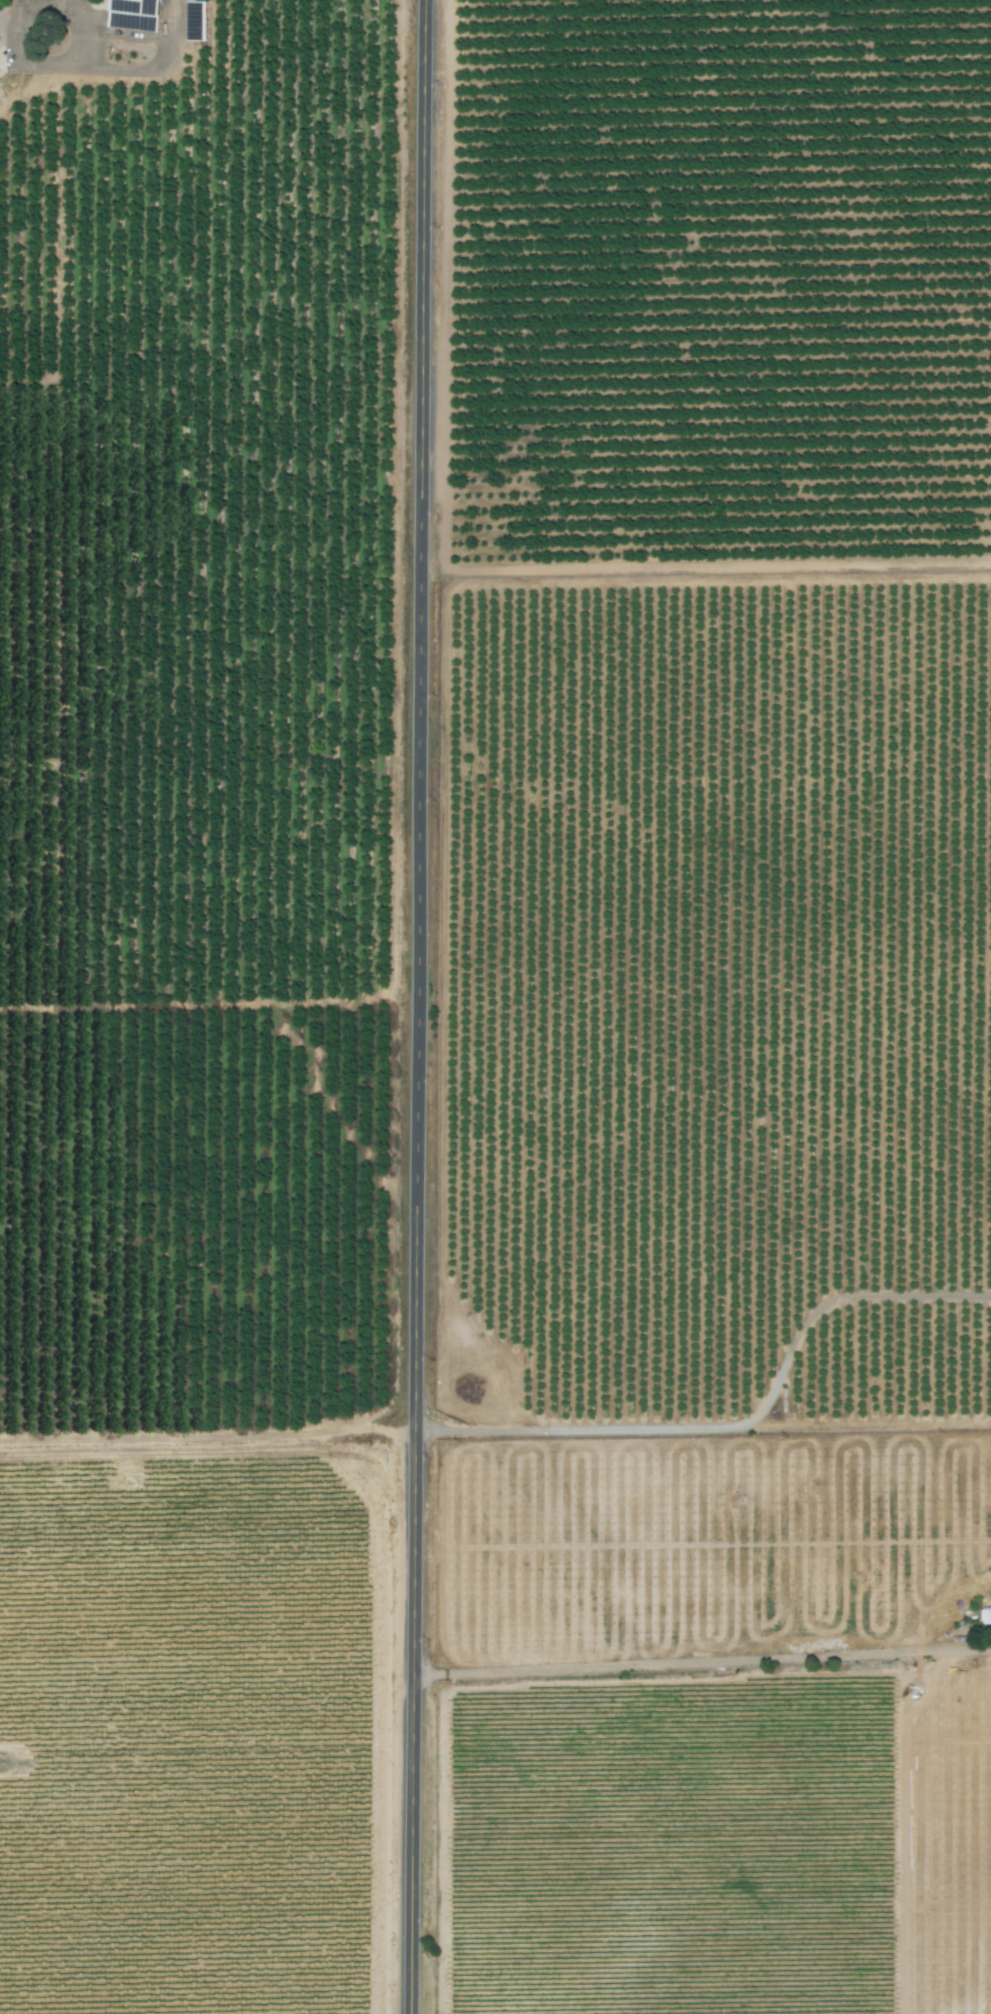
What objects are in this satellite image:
building: (139, 14)
road: (14, 26)
road: (67, 40)
road: (119, 70)
road: (190, 365)
road: (398, 872)
road: (422, 1007)
road: (975, 1280)
road: (739, 1425)
road: (211, 1438)
building: (819, 1575)
building: (987, 1615)
road: (704, 1660)
power tower: (8, 1768)
road: (899, 1825)

